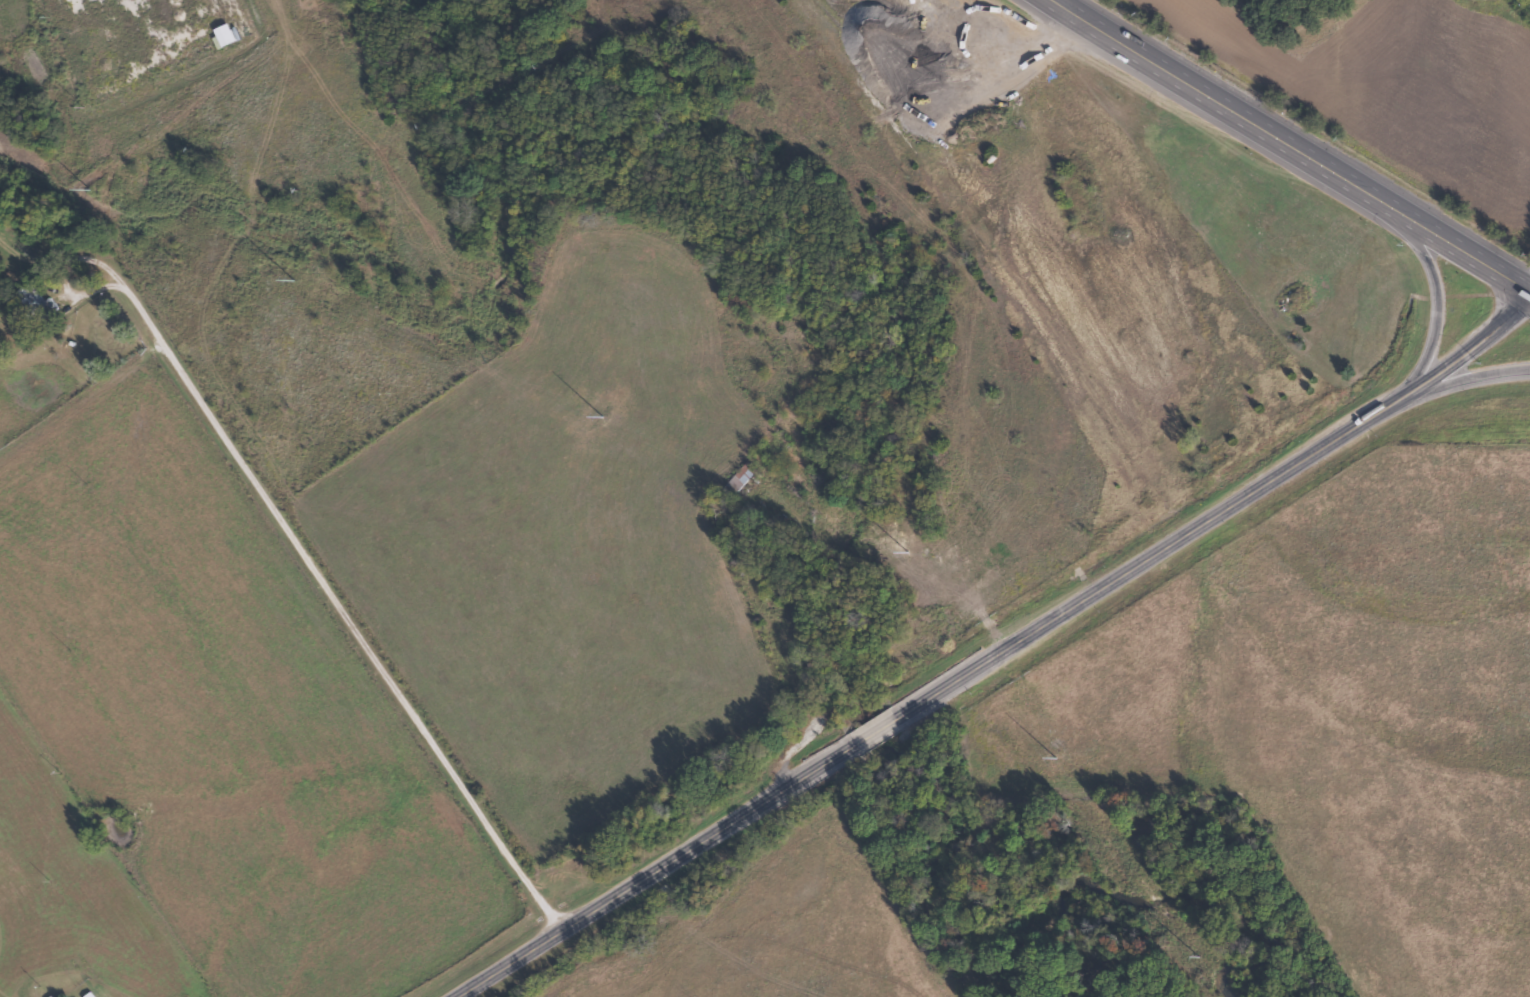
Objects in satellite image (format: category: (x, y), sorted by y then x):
building: (193, 52)
road: (1292, 141)
road: (1435, 284)
building: (41, 304)
road: (1464, 379)
river: (880, 438)
road: (1267, 478)
building: (739, 482)
building: (781, 593)
road: (337, 612)
road: (899, 715)
road: (630, 887)

